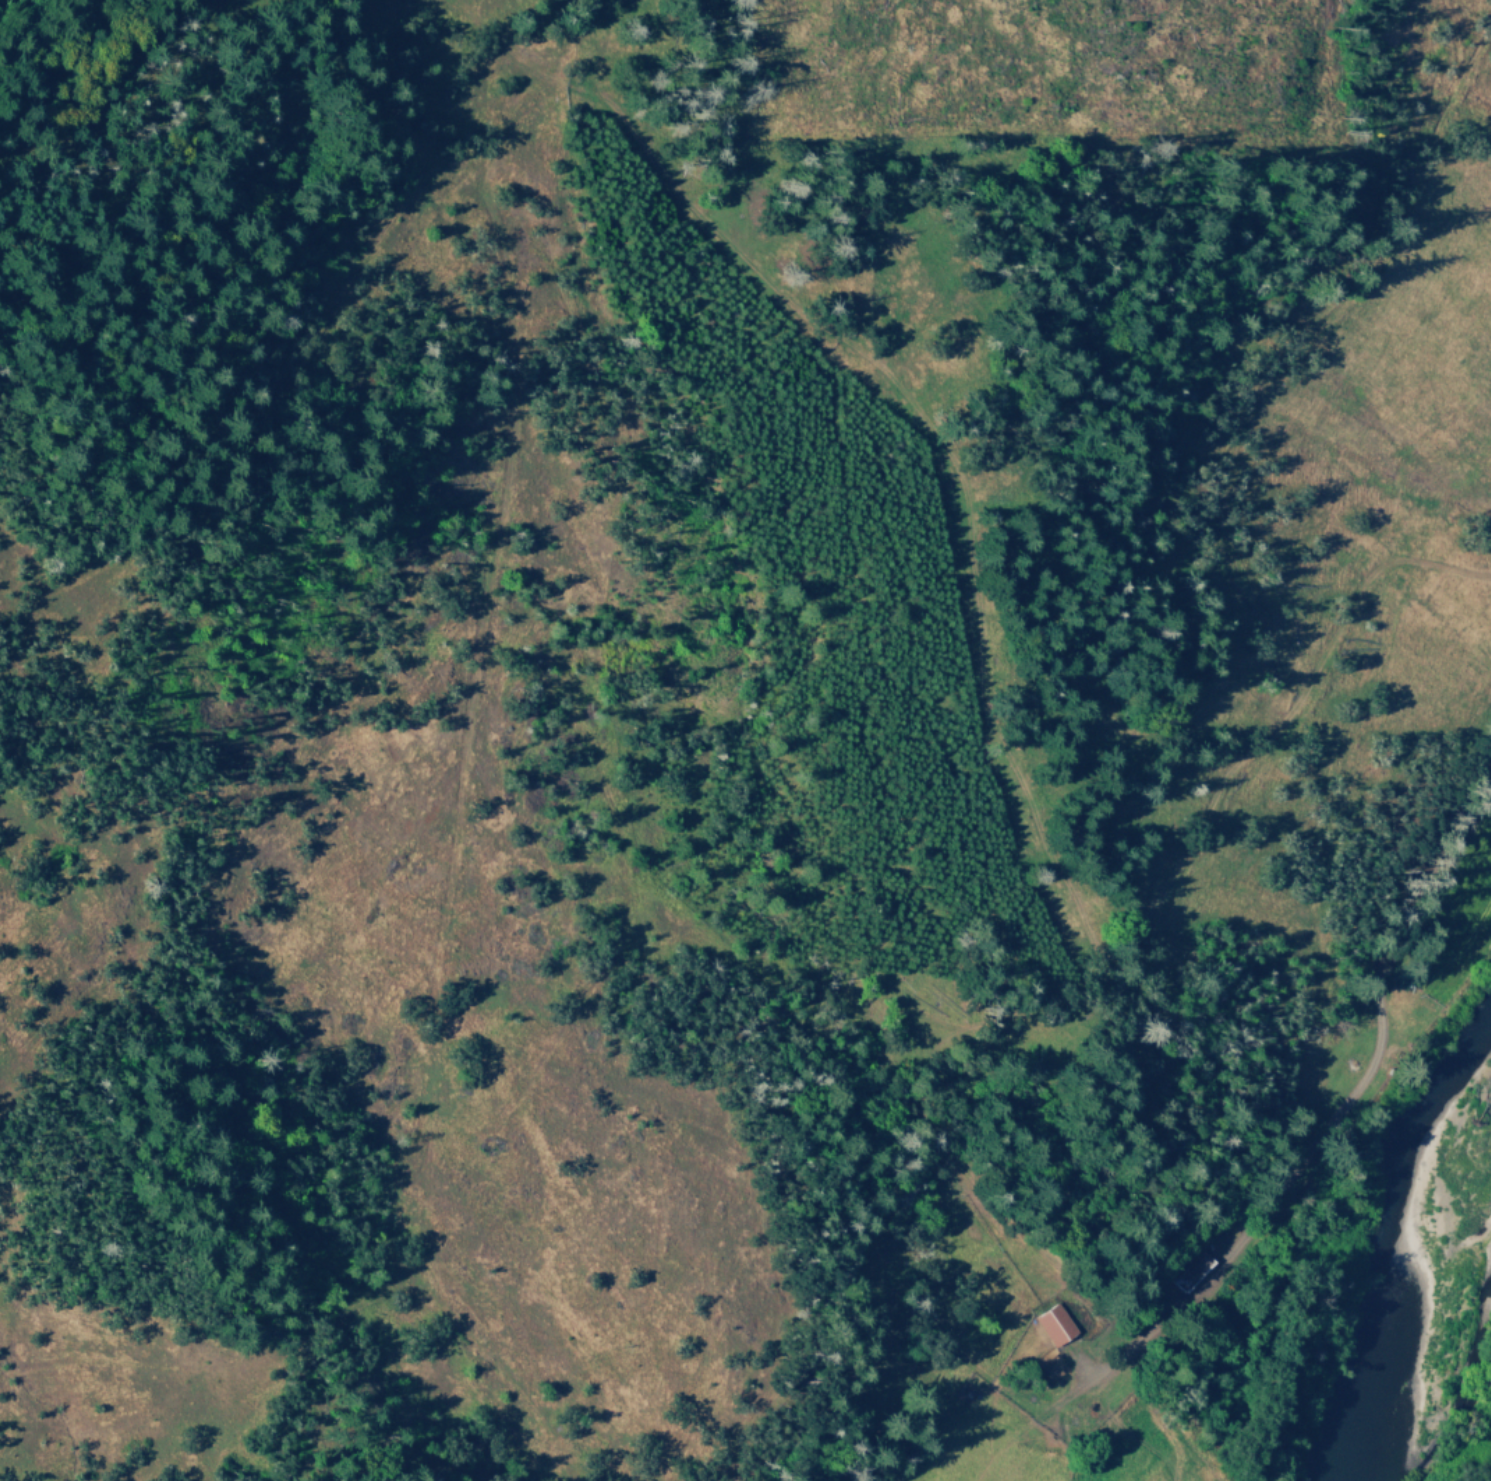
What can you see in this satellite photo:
building: (1052, 1324)
river: (1401, 1329)

